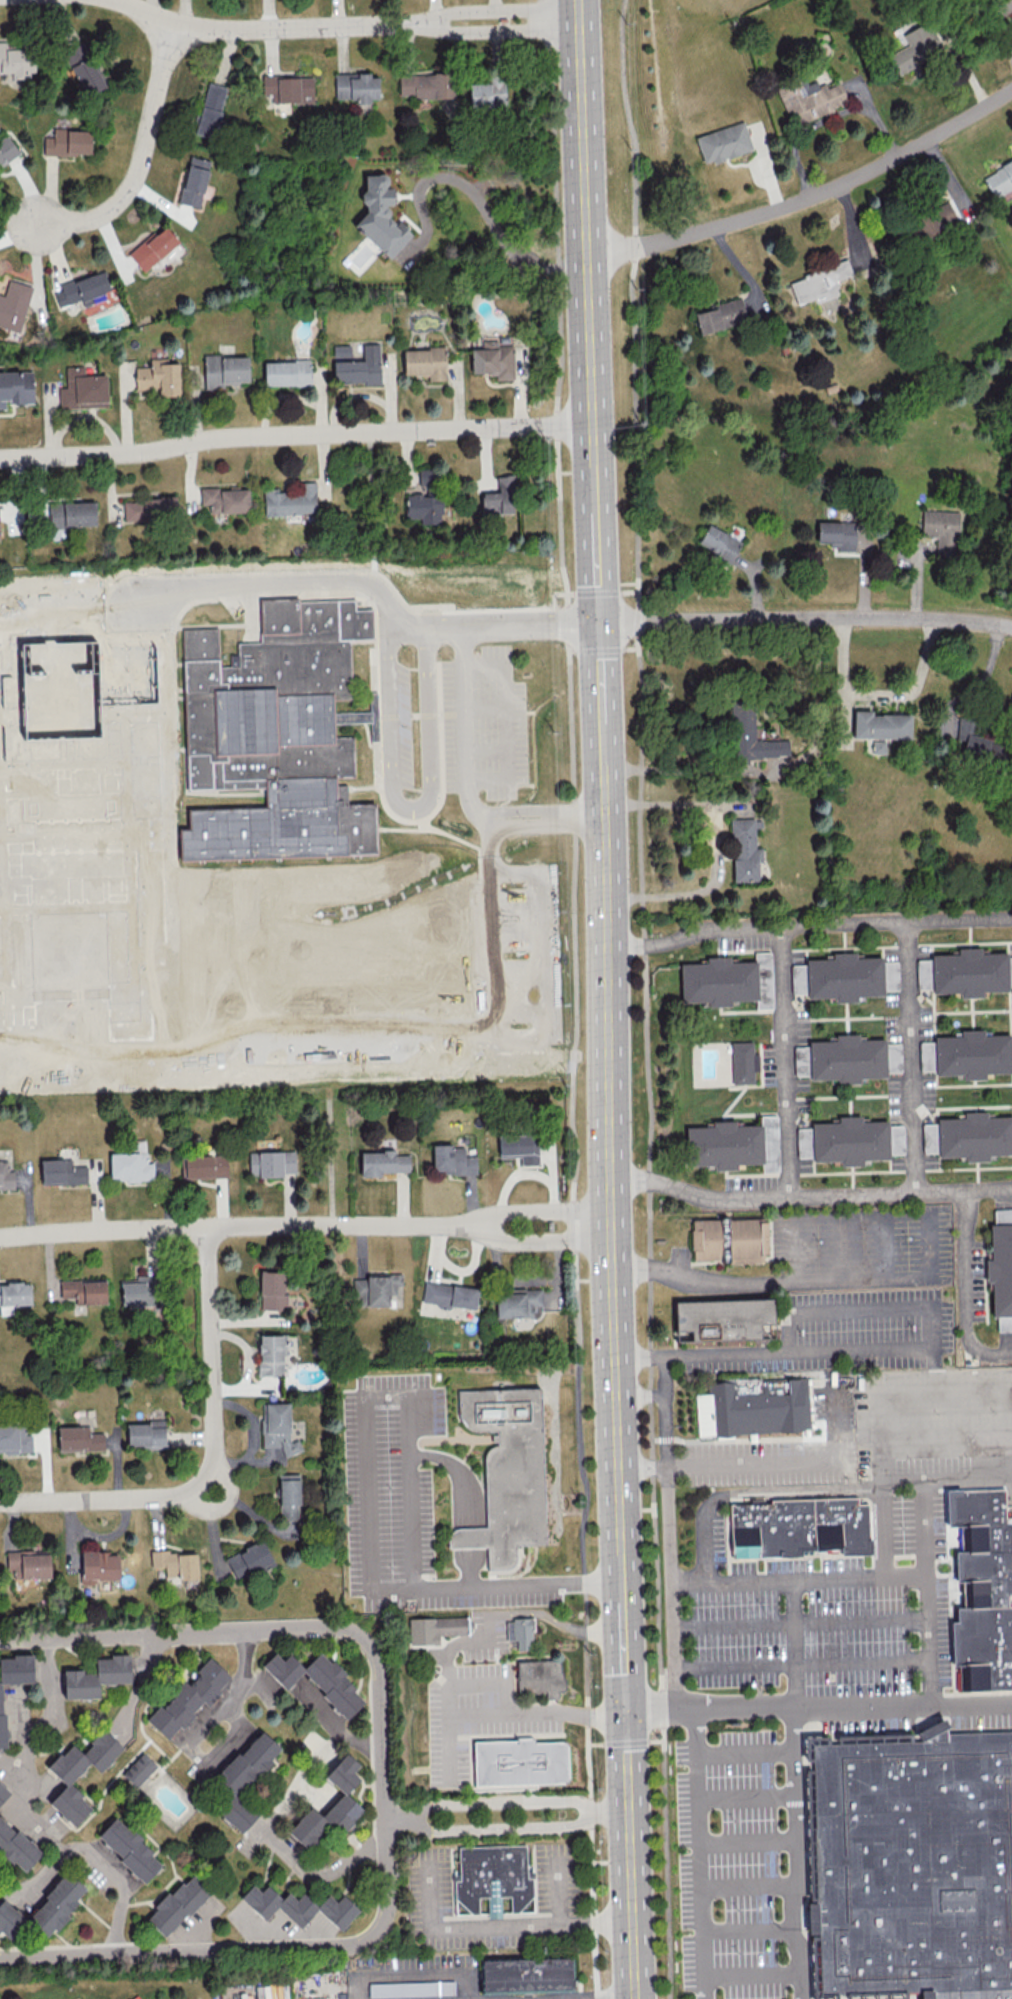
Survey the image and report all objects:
road: (577, 2)
road: (479, 9)
road: (243, 30)
road: (480, 30)
road: (1011, 43)
building: (913, 49)
building: (16, 61)
building: (82, 66)
building: (426, 85)
building: (356, 87)
building: (288, 88)
building: (486, 95)
building: (809, 98)
building: (210, 110)
road: (827, 119)
road: (582, 129)
building: (67, 142)
building: (723, 142)
building: (6, 149)
road: (138, 156)
building: (999, 178)
building: (194, 181)
road: (808, 196)
building: (380, 216)
road: (496, 220)
building: (930, 222)
building: (153, 247)
building: (818, 282)
building: (82, 289)
building: (720, 315)
road: (589, 338)
building: (493, 359)
building: (424, 362)
building: (359, 367)
building: (224, 370)
building: (286, 372)
building: (159, 376)
building: (15, 387)
building: (82, 390)
road: (295, 435)
road: (593, 446)
road: (594, 492)
building: (501, 496)
building: (225, 499)
building: (291, 500)
building: (423, 505)
building: (149, 508)
building: (71, 513)
building: (941, 530)
building: (837, 534)
building: (719, 543)
road: (597, 568)
road: (281, 582)
road: (805, 618)
traffic signals: (599, 622)
road: (493, 626)
road: (600, 673)
road: (879, 697)
building: (47, 702)
road: (464, 710)
road: (506, 722)
building: (880, 725)
building: (753, 736)
building: (280, 742)
building: (976, 744)
road: (601, 754)
road: (777, 772)
park: (111, 775)
road: (411, 809)
road: (530, 809)
road: (571, 815)
park: (110, 821)
road: (525, 825)
road: (715, 843)
building: (744, 849)
road: (808, 927)
building: (969, 972)
building: (838, 977)
building: (728, 981)
road: (647, 998)
road: (605, 1014)
road: (522, 1039)
building: (967, 1054)
road: (911, 1060)
building: (743, 1062)
road: (784, 1065)
building: (968, 1136)
building: (895, 1139)
building: (843, 1141)
building: (724, 1144)
building: (519, 1147)
building: (452, 1160)
building: (384, 1162)
building: (131, 1163)
building: (272, 1163)
building: (206, 1166)
building: (6, 1172)
building: (62, 1172)
road: (808, 1199)
road: (535, 1209)
road: (337, 1226)
road: (104, 1231)
road: (535, 1241)
building: (729, 1241)
road: (931, 1243)
road: (879, 1244)
road: (840, 1245)
road: (794, 1247)
building: (1000, 1274)
road: (770, 1281)
building: (376, 1287)
parking lot: (873, 1288)
building: (272, 1289)
road: (966, 1289)
building: (84, 1290)
building: (141, 1291)
building: (15, 1293)
building: (449, 1295)
building: (517, 1301)
road: (860, 1307)
building: (725, 1319)
building: (272, 1354)
road: (973, 1389)
road: (920, 1391)
road: (640, 1394)
building: (759, 1407)
road: (835, 1410)
road: (616, 1413)
building: (277, 1427)
road: (945, 1432)
building: (146, 1433)
parking lot: (884, 1434)
building: (14, 1438)
building: (78, 1439)
road: (213, 1457)
road: (786, 1461)
road: (643, 1466)
building: (509, 1474)
road: (459, 1475)
road: (946, 1478)
road: (367, 1492)
road: (751, 1492)
building: (288, 1497)
road: (223, 1503)
road: (669, 1508)
building: (800, 1528)
road: (923, 1528)
road: (469, 1539)
building: (248, 1560)
building: (27, 1563)
building: (175, 1563)
building: (98, 1566)
road: (470, 1568)
road: (413, 1576)
road: (731, 1581)
road: (603, 1584)
building: (983, 1590)
road: (539, 1613)
parking lot: (832, 1615)
road: (927, 1621)
road: (800, 1622)
building: (436, 1630)
road: (605, 1631)
building: (521, 1632)
road: (790, 1644)
road: (624, 1646)
road: (802, 1665)
road: (241, 1668)
building: (15, 1669)
building: (96, 1676)
building: (316, 1679)
building: (541, 1679)
road: (478, 1682)
building: (188, 1697)
road: (901, 1706)
road: (708, 1708)
traffic signals: (627, 1710)
road: (49, 1713)
road: (472, 1713)
building: (1, 1715)
road: (334, 1725)
road: (625, 1743)
road: (447, 1749)
road: (743, 1753)
road: (207, 1759)
road: (628, 1761)
building: (521, 1763)
road: (587, 1768)
building: (138, 1769)
building: (66, 1778)
building: (243, 1778)
building: (3, 1792)
road: (382, 1792)
road: (744, 1799)
road: (506, 1804)
building: (330, 1806)
road: (506, 1827)
road: (273, 1838)
road: (53, 1840)
road: (746, 1842)
building: (16, 1847)
building: (128, 1849)
road: (698, 1853)
road: (795, 1853)
parking lot: (732, 1865)
building: (917, 1866)
building: (493, 1878)
road: (119, 1879)
road: (748, 1885)
road: (562, 1888)
building: (55, 1905)
building: (176, 1905)
building: (298, 1906)
road: (632, 1906)
building: (9, 1920)
road: (500, 1926)
road: (594, 1931)
road: (749, 1931)
road: (412, 1973)
building: (527, 1976)
road: (751, 1976)
building: (411, 1988)
road: (609, 1997)

